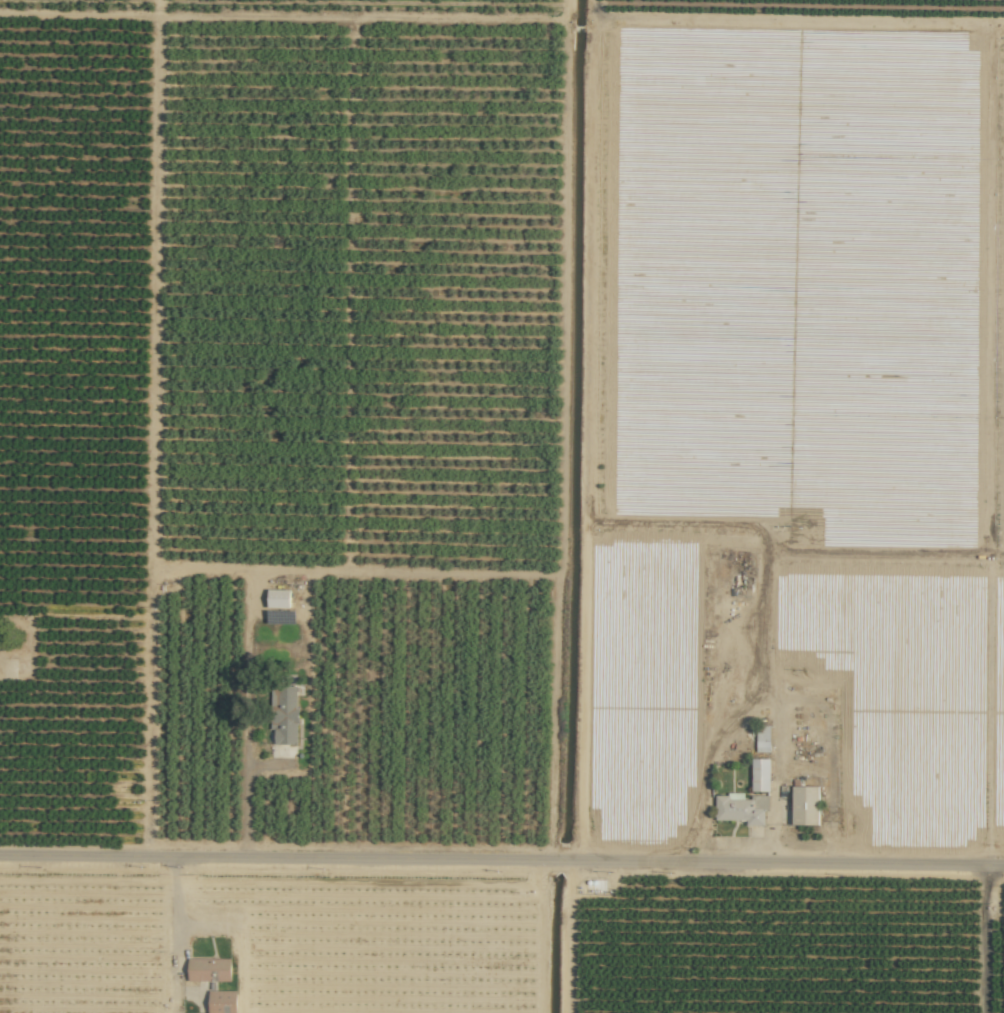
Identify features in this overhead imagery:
building: (278, 598)
building: (284, 714)
building: (763, 739)
building: (760, 774)
building: (805, 805)
building: (741, 808)
road: (501, 878)
road: (177, 935)
building: (209, 969)
building: (222, 1001)

